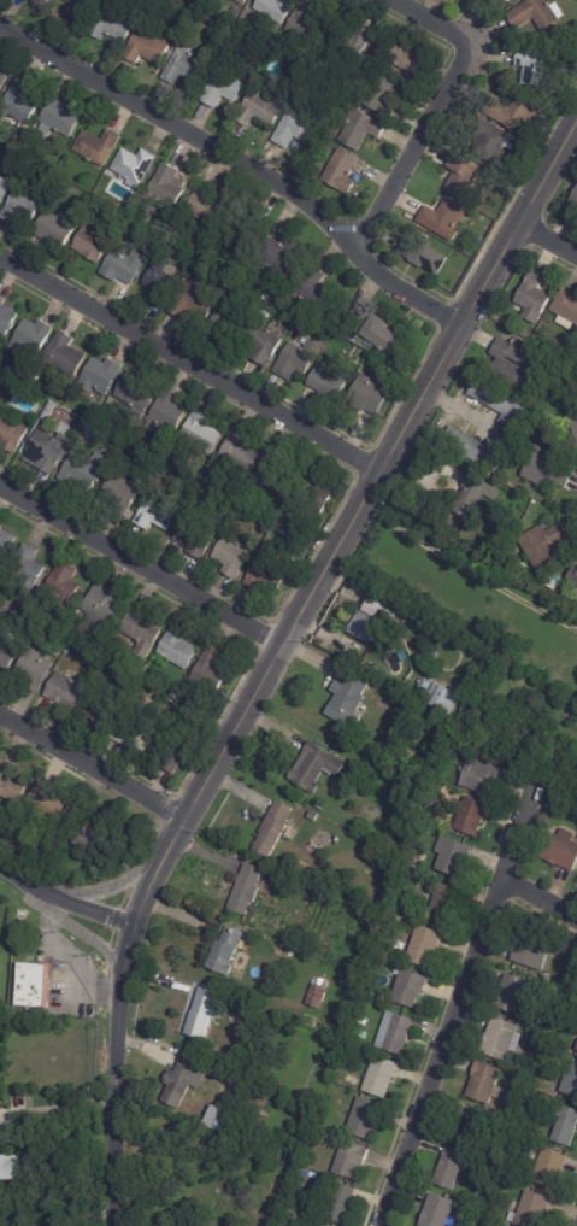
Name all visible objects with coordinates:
building: (507, 0)
building: (111, 1)
building: (243, 1)
building: (504, 1)
building: (47, 2)
building: (275, 8)
building: (86, 10)
building: (237, 11)
building: (534, 14)
building: (114, 24)
building: (308, 24)
building: (352, 40)
building: (148, 48)
building: (405, 55)
building: (186, 66)
building: (537, 66)
building: (4, 78)
building: (224, 86)
building: (385, 95)
building: (20, 102)
road: (438, 107)
building: (264, 108)
building: (514, 112)
building: (60, 119)
building: (296, 128)
building: (364, 130)
building: (494, 140)
building: (93, 142)
road: (243, 163)
building: (129, 165)
building: (343, 171)
building: (463, 175)
building: (159, 186)
building: (4, 189)
building: (571, 204)
building: (25, 205)
building: (210, 206)
building: (142, 211)
building: (443, 219)
building: (57, 229)
building: (247, 233)
building: (94, 244)
road: (548, 245)
building: (472, 250)
building: (425, 254)
building: (284, 256)
building: (126, 265)
building: (161, 283)
building: (319, 291)
building: (531, 300)
building: (193, 301)
building: (564, 310)
building: (7, 317)
building: (226, 325)
building: (385, 335)
building: (33, 338)
building: (263, 344)
building: (563, 351)
building: (65, 356)
building: (299, 359)
building: (513, 363)
road: (190, 370)
building: (27, 375)
building: (37, 375)
building: (104, 376)
building: (329, 381)
building: (136, 392)
building: (370, 394)
building: (497, 405)
building: (52, 406)
building: (169, 415)
building: (48, 416)
building: (572, 427)
building: (12, 430)
building: (89, 433)
building: (199, 436)
building: (102, 439)
building: (472, 450)
building: (49, 451)
building: (241, 452)
building: (86, 470)
building: (542, 471)
building: (275, 475)
building: (124, 492)
building: (317, 494)
building: (470, 498)
building: (158, 515)
building: (196, 535)
building: (7, 542)
building: (538, 545)
building: (232, 557)
road: (143, 564)
building: (30, 565)
building: (520, 567)
road: (469, 571)
building: (269, 576)
building: (571, 577)
building: (65, 586)
building: (105, 608)
building: (370, 620)
building: (142, 632)
building: (100, 644)
building: (178, 649)
building: (60, 650)
building: (482, 655)
building: (7, 656)
road: (278, 659)
building: (212, 670)
building: (36, 671)
building: (418, 688)
building: (69, 693)
building: (175, 693)
building: (446, 697)
building: (349, 700)
building: (102, 709)
building: (136, 732)
building: (176, 749)
building: (384, 755)
road: (92, 765)
building: (317, 767)
building: (482, 776)
building: (12, 787)
building: (411, 798)
building: (46, 805)
building: (313, 816)
building: (472, 816)
building: (275, 828)
building: (292, 834)
building: (94, 837)
building: (563, 849)
building: (454, 857)
building: (54, 860)
road: (119, 882)
building: (251, 885)
road: (537, 898)
road: (64, 901)
building: (443, 903)
building: (23, 913)
building: (23, 920)
road: (90, 937)
building: (424, 945)
building: (228, 951)
building: (532, 951)
building: (46, 954)
road: (69, 958)
building: (324, 976)
building: (553, 979)
building: (34, 984)
building: (411, 989)
building: (514, 993)
building: (318, 996)
road: (455, 1001)
building: (1, 1005)
building: (379, 1007)
building: (204, 1013)
building: (396, 1033)
building: (504, 1038)
building: (576, 1046)
building: (234, 1058)
building: (564, 1068)
building: (382, 1075)
building: (187, 1077)
building: (337, 1079)
building: (484, 1081)
building: (571, 1081)
building: (216, 1116)
building: (366, 1118)
building: (565, 1125)
building: (476, 1127)
building: (340, 1131)
building: (543, 1137)
building: (352, 1160)
building: (534, 1161)
building: (10, 1167)
building: (259, 1167)
building: (552, 1168)
building: (451, 1169)
building: (212, 1172)
building: (514, 1174)
building: (195, 1191)
building: (343, 1202)
building: (532, 1209)
building: (438, 1210)
building: (294, 1216)
building: (310, 1218)
building: (318, 1224)
building: (324, 1224)

